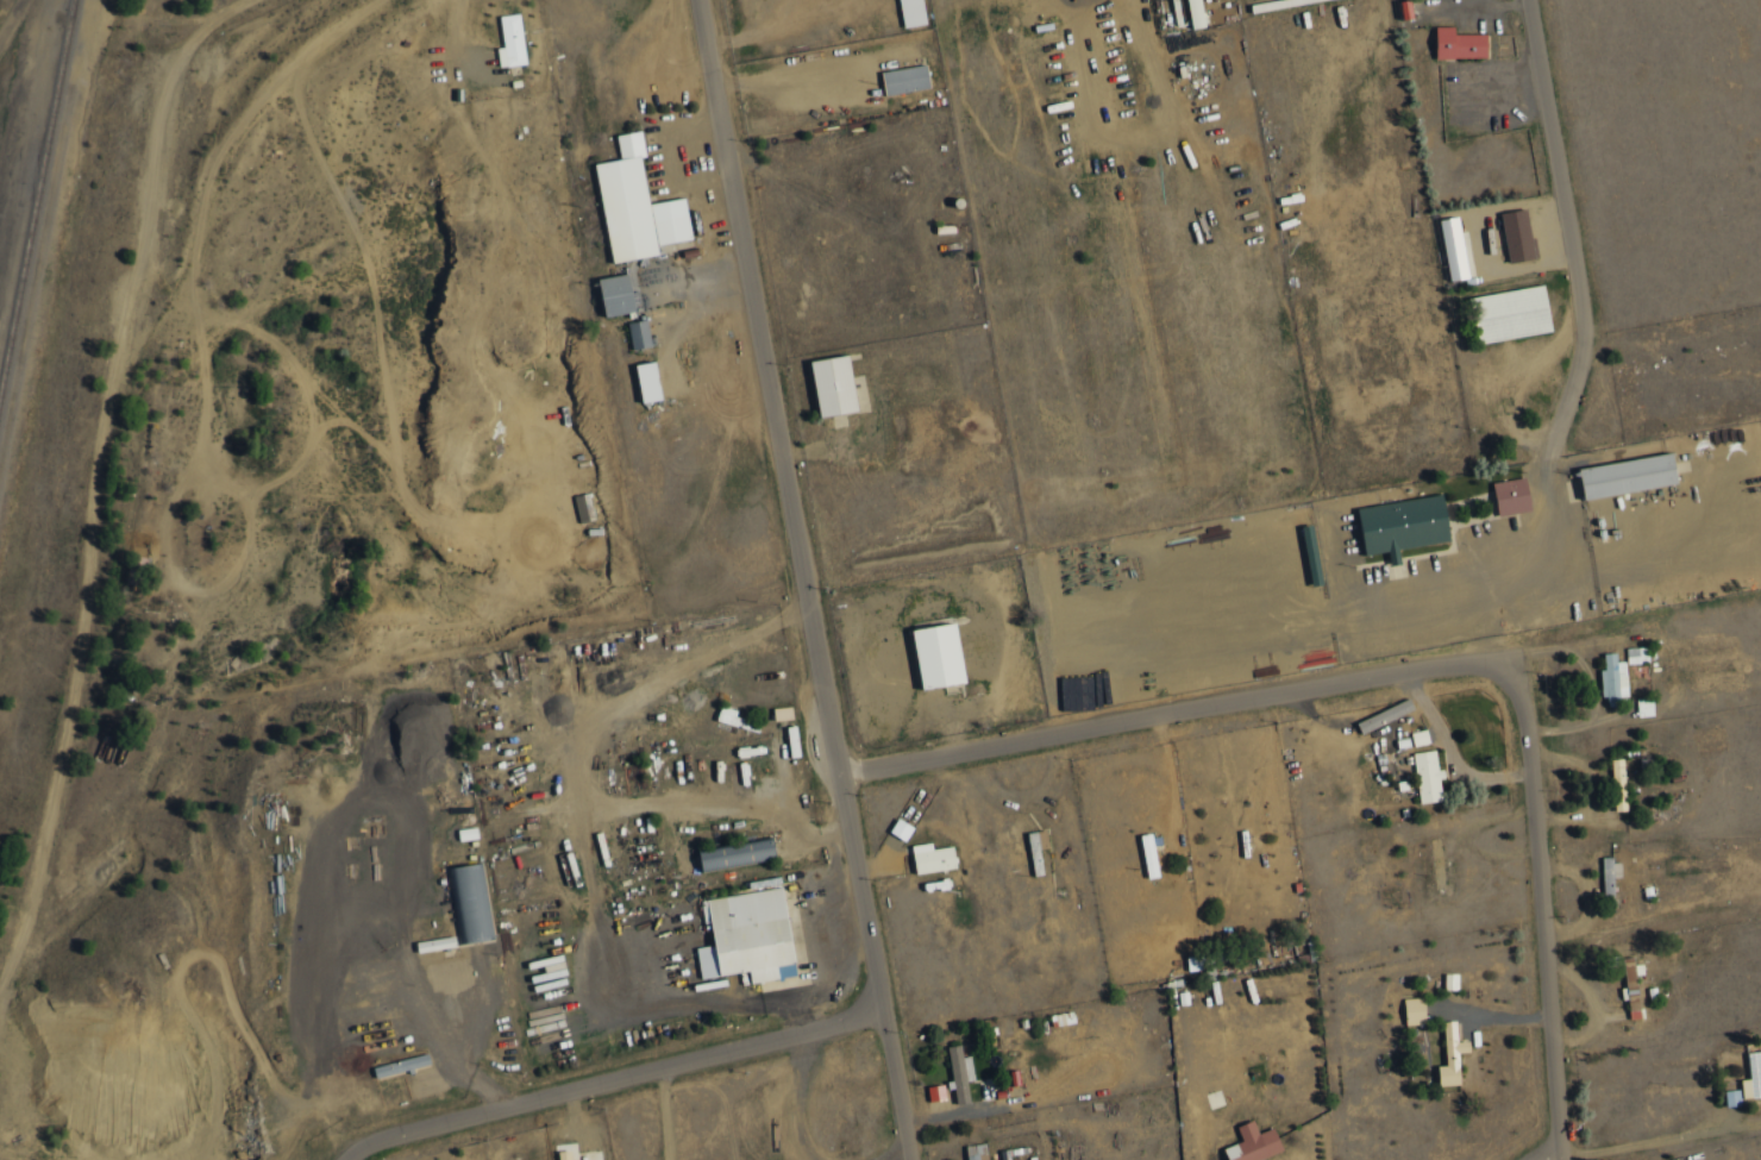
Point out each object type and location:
building: (1258, 2)
building: (1393, 8)
building: (1406, 10)
building: (904, 11)
building: (1185, 12)
building: (1196, 13)
road: (5, 15)
road: (336, 30)
building: (512, 40)
building: (1448, 40)
building: (897, 76)
road: (328, 164)
railway: (35, 180)
road: (217, 186)
building: (635, 206)
building: (1509, 233)
building: (1442, 245)
building: (1454, 249)
building: (615, 295)
road: (267, 305)
building: (1502, 311)
building: (639, 334)
road: (1585, 341)
building: (647, 382)
building: (823, 382)
building: (1617, 474)
building: (1502, 493)
building: (583, 506)
building: (1393, 521)
road: (540, 544)
building: (1302, 551)
road: (803, 579)
building: (928, 653)
building: (1637, 654)
road: (87, 661)
building: (1613, 678)
building: (1074, 688)
building: (1646, 707)
building: (783, 713)
road: (1166, 714)
building: (734, 719)
building: (1420, 736)
road: (1455, 741)
building: (1428, 776)
building: (1619, 784)
building: (901, 829)
building: (737, 854)
building: (1149, 854)
building: (933, 858)
building: (1610, 876)
building: (470, 902)
road: (1533, 911)
building: (747, 936)
building: (435, 943)
building: (1195, 963)
building: (1450, 980)
building: (1415, 1010)
road: (450, 1026)
building: (1452, 1055)
building: (401, 1065)
building: (960, 1073)
building: (1753, 1076)
road: (610, 1078)
building: (935, 1092)
road: (801, 1097)
road: (673, 1112)
road: (1652, 1136)
building: (1254, 1143)
building: (977, 1152)
road: (1543, 1153)
building: (564, 1154)
road: (897, 1155)

